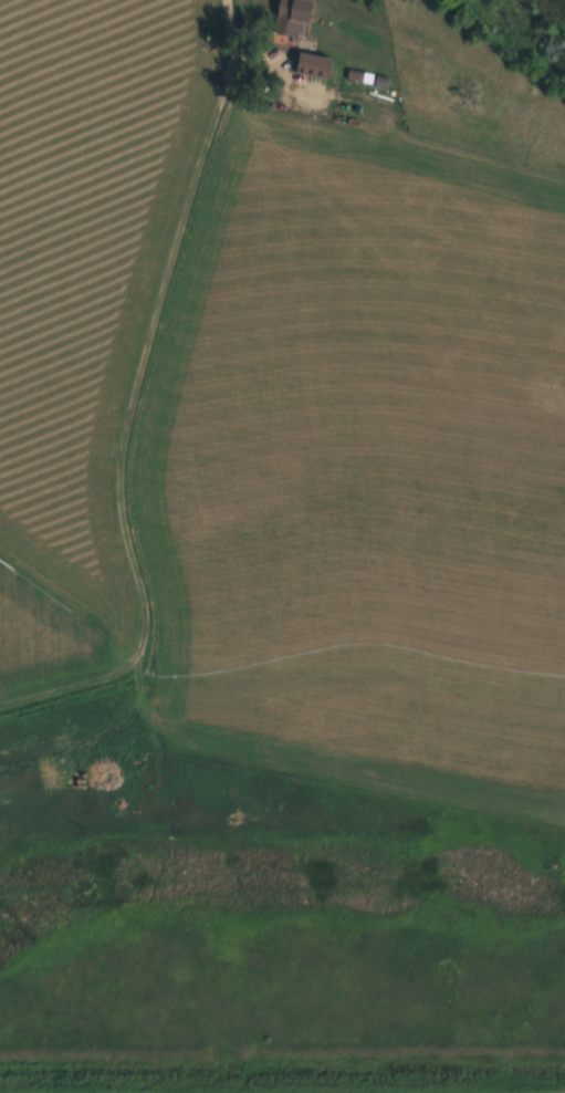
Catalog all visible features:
building: (291, 17)
building: (312, 66)

